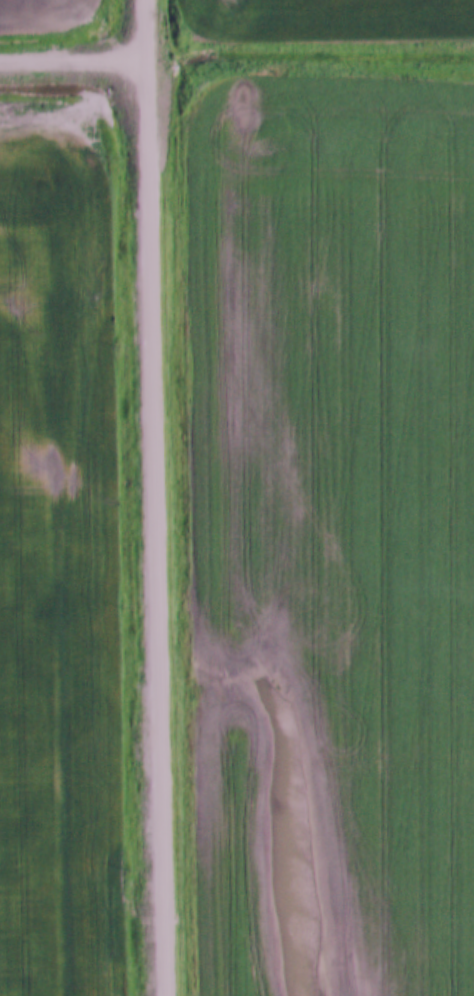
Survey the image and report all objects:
road: (74, 64)
road: (160, 497)

